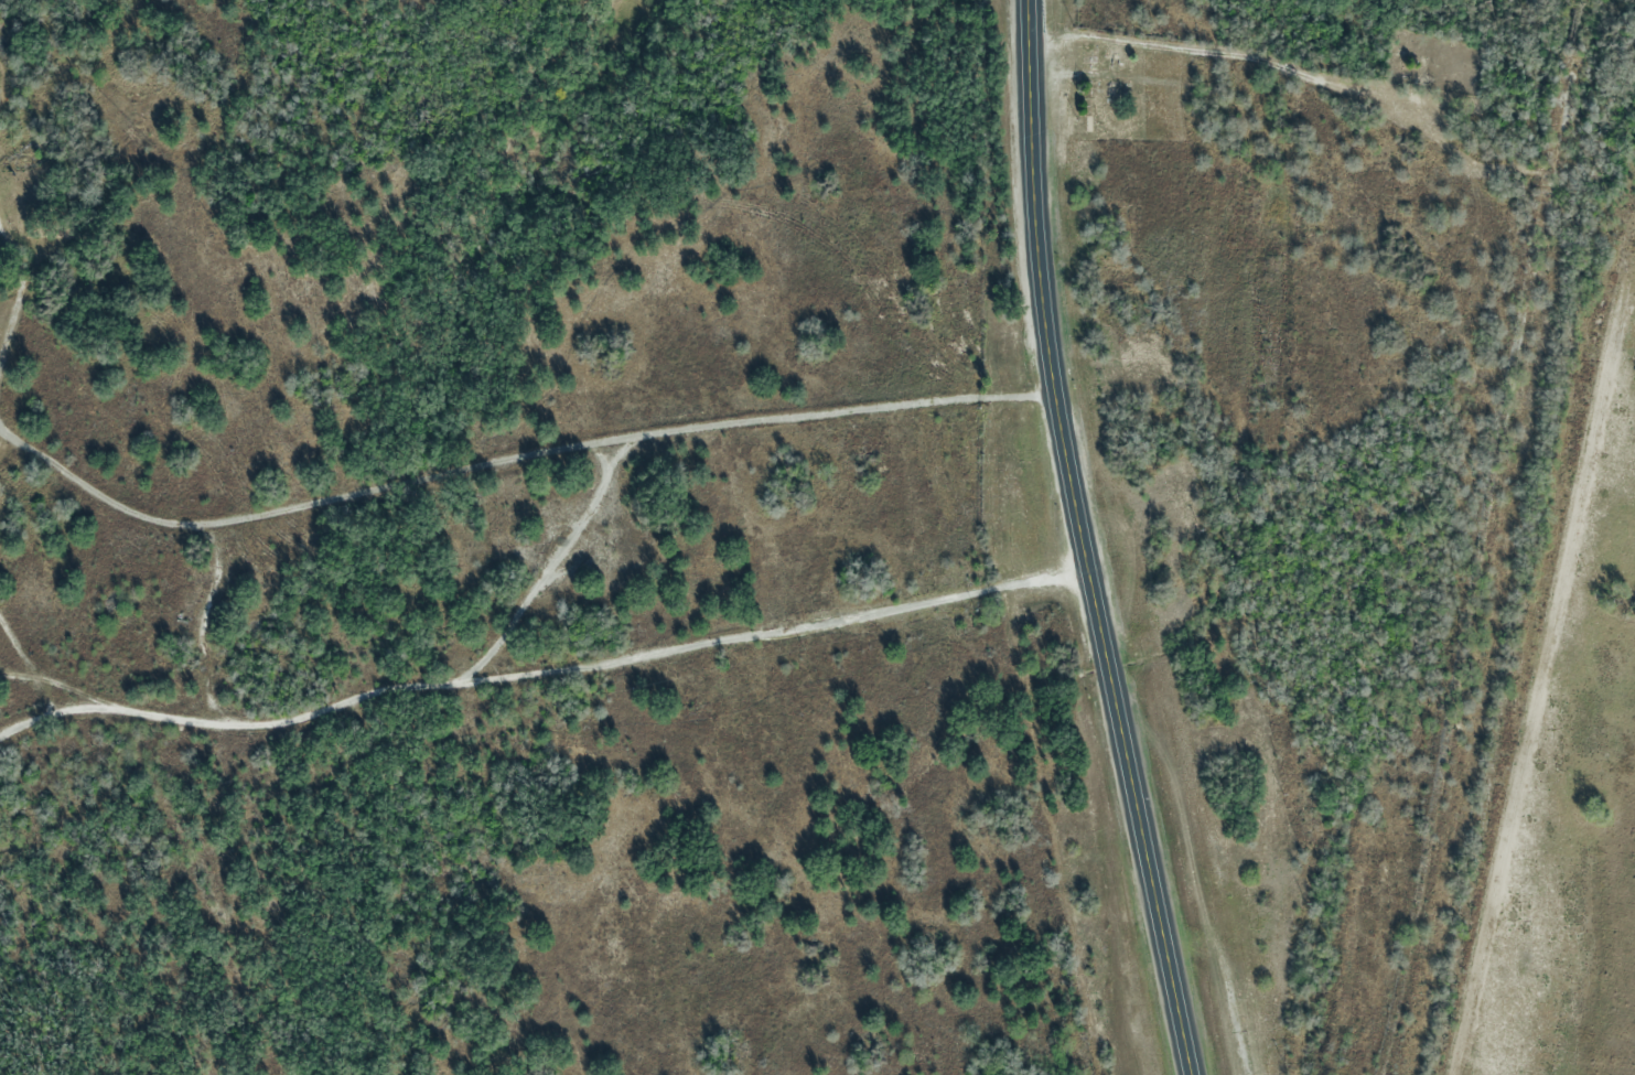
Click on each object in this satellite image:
road: (1231, 57)
park: (1429, 60)
park: (1118, 94)
road: (22, 284)
road: (516, 456)
road: (1087, 540)
road: (531, 675)
road: (51, 716)

